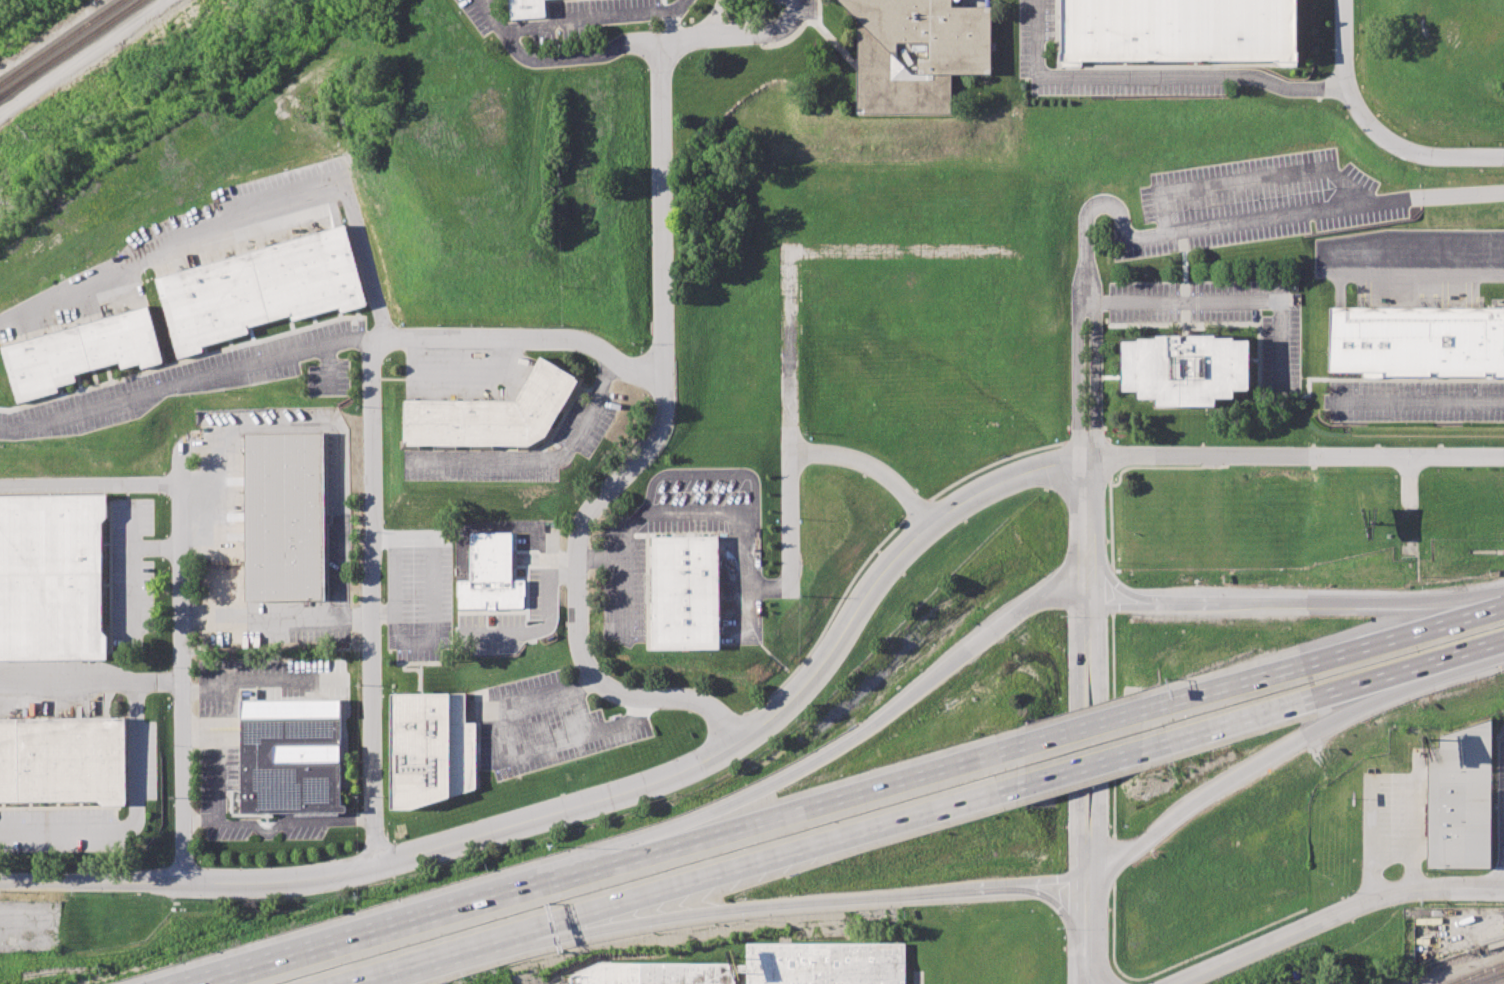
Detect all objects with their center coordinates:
parking lot: (598, 5)
road: (676, 6)
building: (526, 7)
parking lot: (812, 10)
parking lot: (474, 16)
road: (602, 18)
building: (1177, 30)
road: (504, 33)
parking lot: (559, 36)
road: (737, 37)
railway: (61, 41)
railway: (71, 48)
road: (597, 51)
building: (911, 51)
road: (85, 59)
road: (1153, 76)
road: (1371, 130)
power tower: (29, 134)
road: (1251, 178)
road: (243, 210)
road: (1233, 224)
road: (896, 250)
road: (1418, 266)
building: (257, 289)
road: (1227, 301)
road: (467, 336)
building: (1417, 340)
building: (80, 351)
building: (1184, 371)
road: (1075, 379)
road: (1094, 379)
road: (144, 394)
road: (1418, 401)
building: (493, 415)
road: (786, 423)
road: (638, 452)
road: (1196, 456)
road: (1357, 456)
road: (1455, 456)
road: (547, 460)
road: (868, 467)
road: (707, 474)
road: (1406, 481)
road: (90, 482)
road: (706, 511)
building: (284, 515)
road: (341, 517)
road: (1086, 530)
road: (395, 574)
building: (490, 574)
building: (53, 577)
building: (683, 592)
road: (1295, 602)
road: (372, 603)
road: (1154, 603)
road: (1437, 604)
road: (1020, 610)
road: (549, 621)
road: (1403, 639)
road: (1467, 646)
road: (183, 672)
road: (1370, 676)
road: (257, 679)
road: (69, 682)
road: (1236, 687)
road: (1368, 696)
road: (1238, 716)
road: (870, 724)
road: (1085, 731)
road: (1075, 741)
road: (1097, 741)
building: (431, 748)
road: (513, 753)
building: (63, 758)
road: (217, 762)
building: (290, 763)
road: (1080, 763)
road: (600, 797)
road: (135, 798)
building: (1460, 799)
road: (1193, 801)
road: (807, 811)
road: (1411, 814)
road: (198, 821)
road: (290, 824)
road: (693, 826)
road: (1371, 842)
road: (1392, 854)
road: (763, 856)
road: (1029, 884)
road: (1381, 898)
road: (847, 899)
road: (628, 916)
road: (416, 925)
road: (1089, 932)
road: (429, 954)
building: (824, 964)
road: (1221, 964)
railway: (1459, 965)
building: (656, 973)
railway: (1477, 973)
railway: (1487, 978)
railway: (1491, 979)

